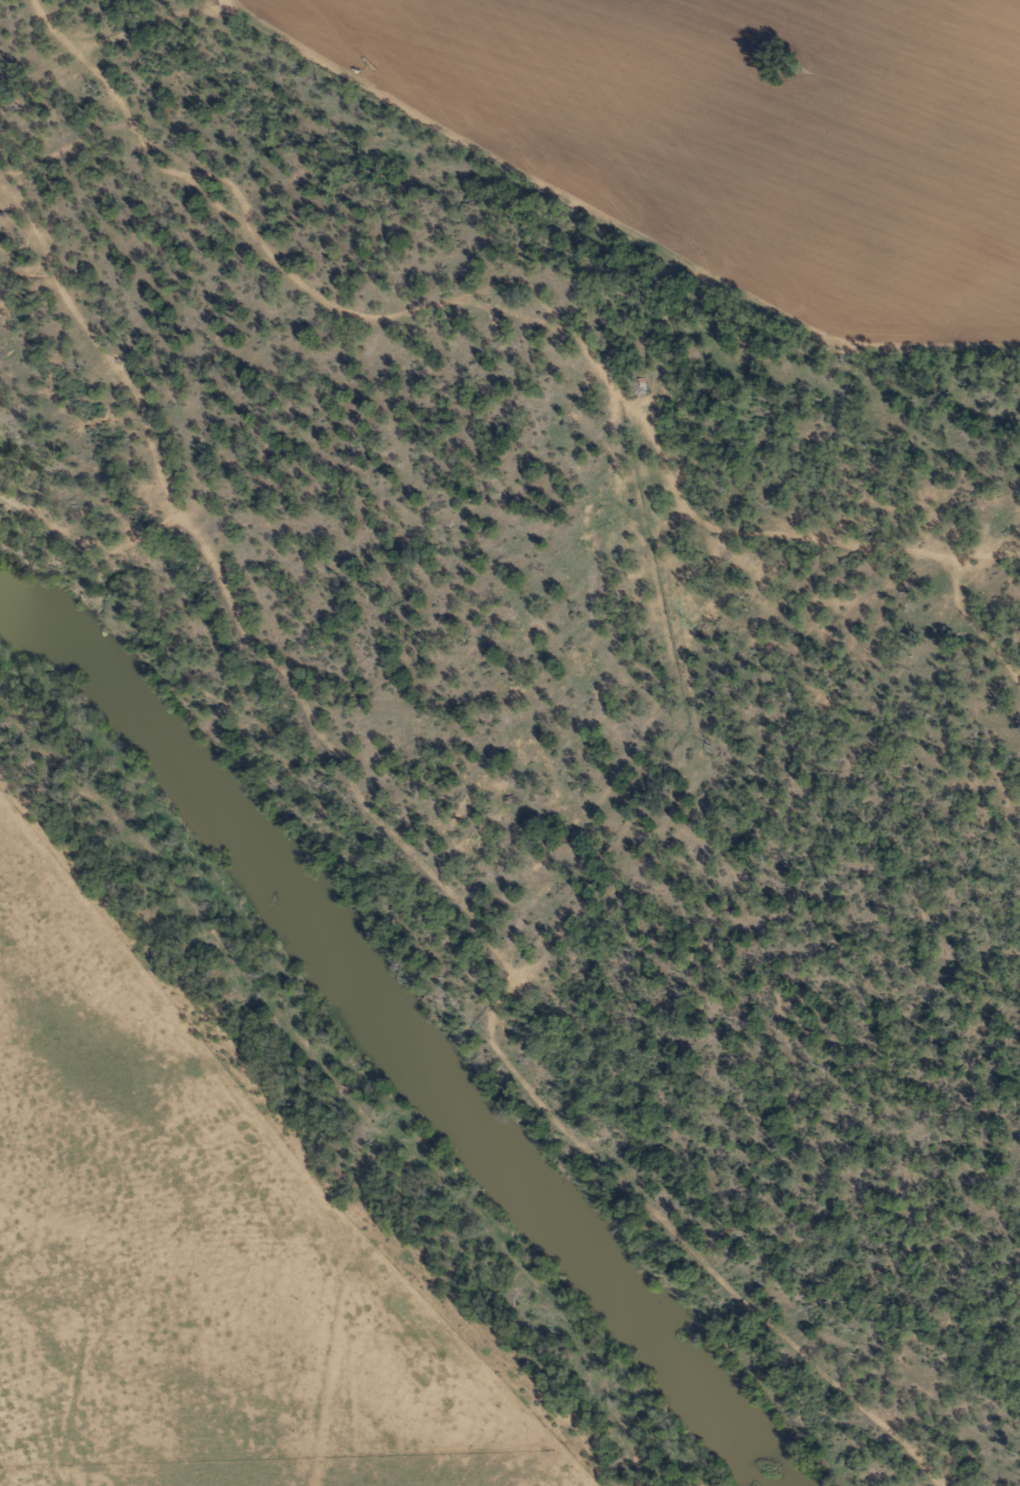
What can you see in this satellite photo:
river: (68, 632)
river: (459, 1088)

